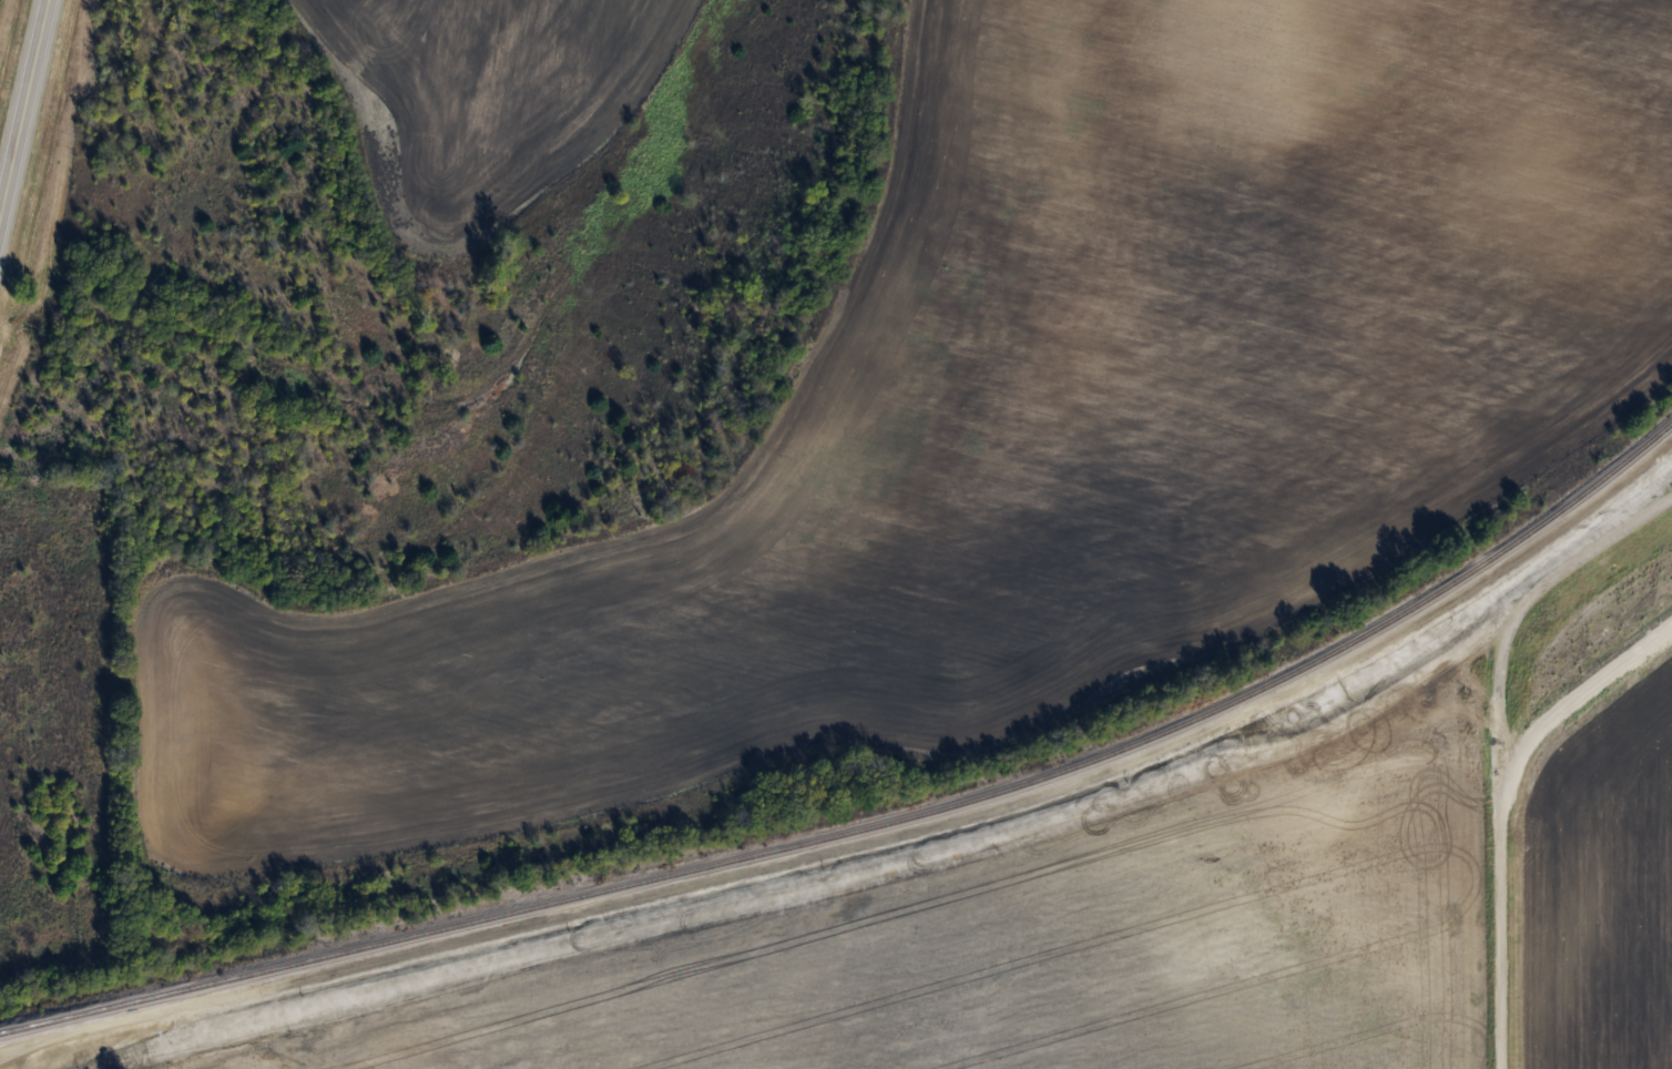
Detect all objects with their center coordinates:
road: (23, 105)
road: (1498, 807)
railway: (875, 825)

